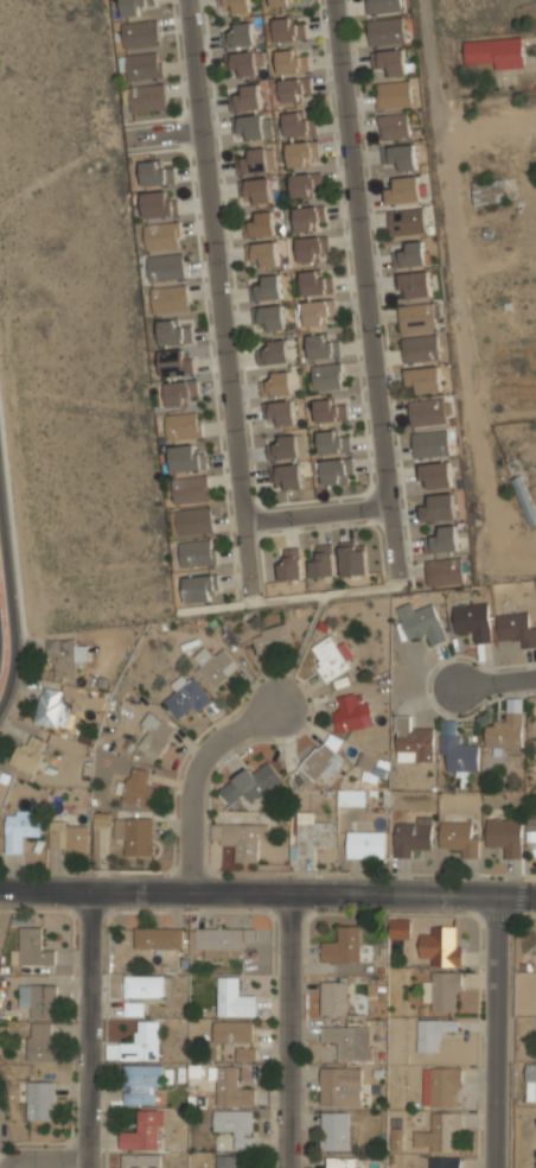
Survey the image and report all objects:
building: (281, 2)
building: (236, 5)
building: (138, 6)
building: (382, 6)
building: (288, 27)
building: (385, 31)
building: (141, 32)
building: (238, 34)
building: (494, 52)
building: (291, 59)
building: (390, 61)
building: (247, 62)
building: (142, 64)
building: (295, 88)
building: (393, 95)
building: (147, 96)
building: (247, 96)
building: (299, 125)
building: (250, 127)
building: (395, 127)
building: (302, 153)
building: (401, 155)
building: (253, 161)
building: (155, 172)
building: (304, 184)
building: (404, 190)
building: (489, 190)
building: (259, 191)
building: (159, 203)
building: (310, 217)
building: (407, 221)
building: (263, 223)
building: (162, 235)
building: (312, 247)
building: (263, 254)
building: (410, 254)
building: (166, 266)
road: (457, 267)
road: (363, 277)
building: (315, 281)
road: (218, 283)
building: (415, 284)
building: (267, 286)
building: (168, 299)
building: (319, 312)
building: (270, 316)
building: (416, 316)
building: (172, 332)
building: (323, 345)
building: (420, 347)
building: (274, 351)
building: (174, 363)
building: (326, 375)
building: (425, 377)
building: (275, 383)
building: (180, 393)
building: (330, 408)
building: (428, 411)
building: (281, 412)
building: (183, 425)
building: (331, 442)
building: (430, 444)
building: (282, 446)
building: (186, 456)
building: (334, 470)
building: (289, 475)
building: (435, 475)
building: (190, 488)
building: (524, 497)
building: (438, 507)
road: (317, 514)
building: (193, 520)
building: (442, 539)
building: (196, 552)
building: (353, 559)
building: (323, 561)
building: (289, 564)
building: (445, 570)
building: (200, 586)
building: (473, 621)
building: (421, 622)
road: (11, 623)
building: (518, 628)
building: (270, 636)
building: (63, 656)
building: (327, 656)
building: (213, 664)
road: (496, 680)
building: (186, 694)
building: (52, 705)
building: (349, 711)
building: (506, 731)
building: (154, 735)
building: (414, 741)
building: (28, 753)
building: (459, 753)
building: (323, 757)
building: (372, 763)
road: (192, 773)
building: (251, 783)
building: (138, 786)
building: (350, 796)
building: (20, 829)
building: (310, 832)
building: (135, 833)
building: (531, 836)
building: (411, 837)
building: (459, 837)
building: (504, 837)
building: (238, 838)
building: (68, 839)
building: (365, 843)
road: (267, 885)
building: (400, 928)
building: (159, 938)
building: (218, 940)
building: (445, 945)
building: (343, 946)
building: (33, 952)
building: (143, 985)
building: (441, 990)
building: (334, 997)
building: (38, 999)
building: (232, 999)
building: (132, 1009)
road: (84, 1026)
road: (285, 1027)
road: (494, 1029)
building: (433, 1031)
building: (232, 1033)
building: (350, 1041)
building: (39, 1042)
building: (142, 1042)
building: (244, 1054)
building: (531, 1081)
building: (140, 1083)
building: (440, 1084)
building: (340, 1086)
building: (231, 1088)
building: (39, 1100)
building: (535, 1121)
building: (236, 1126)
building: (334, 1130)
building: (439, 1131)
building: (142, 1132)
building: (140, 1161)
building: (226, 1162)
building: (340, 1162)
building: (444, 1162)

